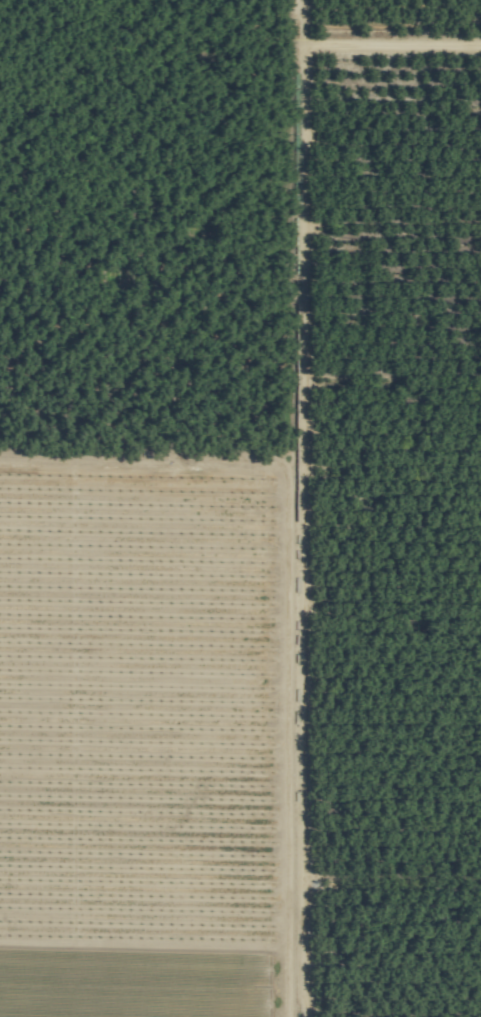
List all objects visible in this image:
crop: (240, 508)
crop: (394, 963)

